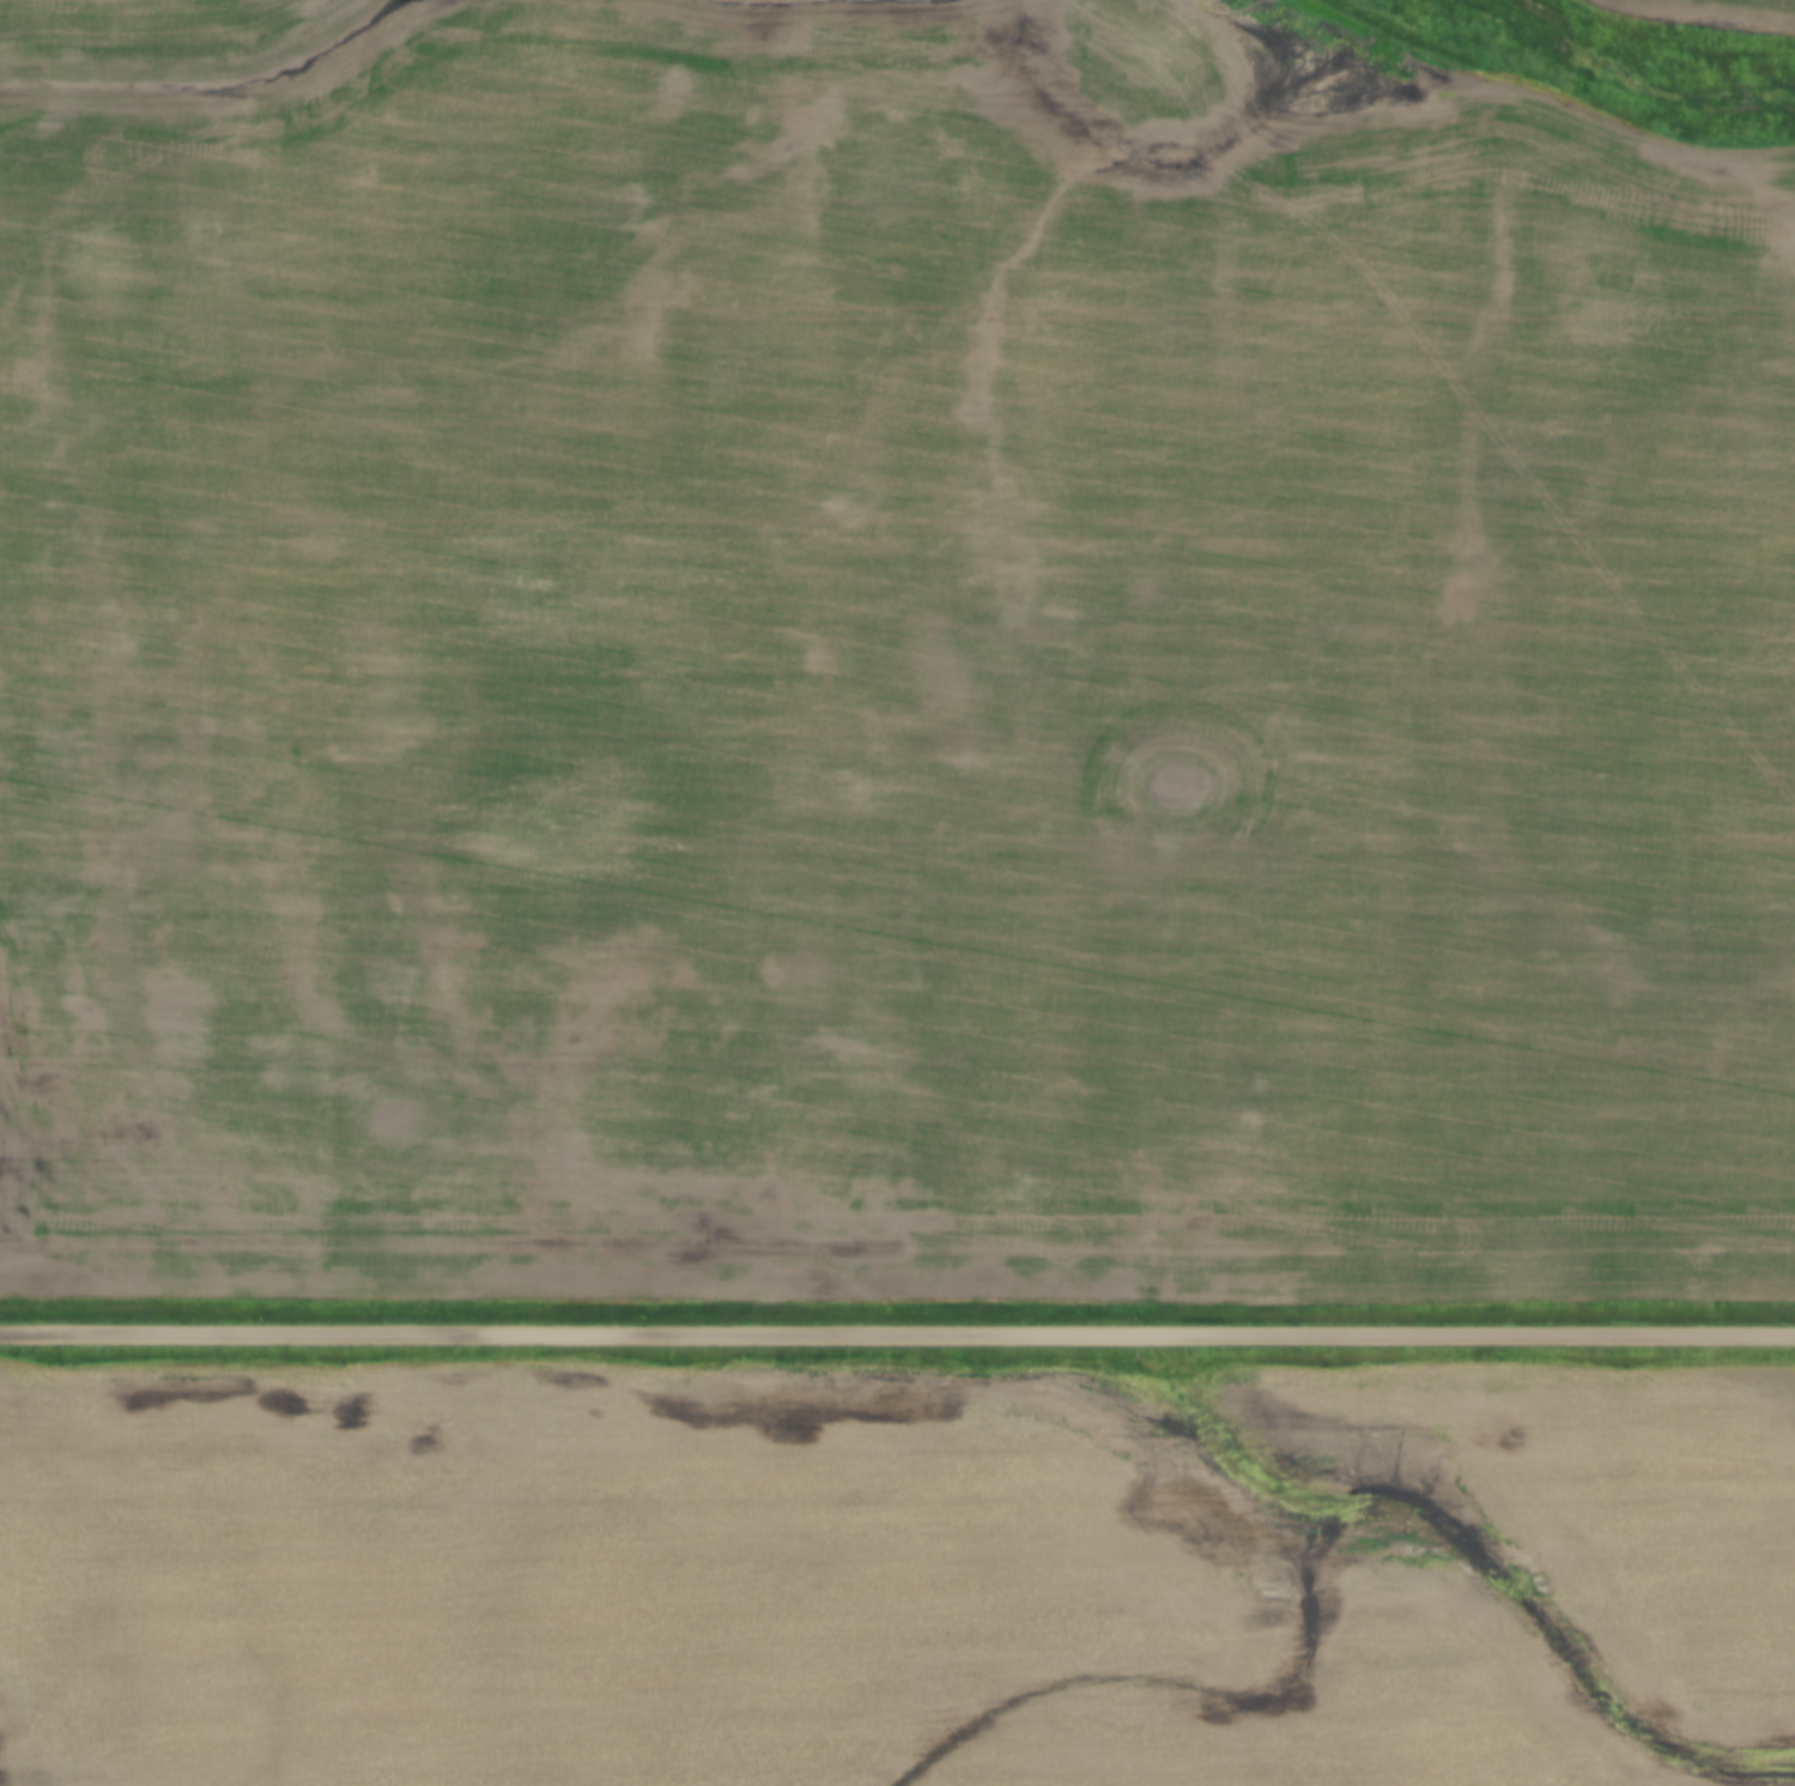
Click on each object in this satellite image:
road: (897, 1333)

